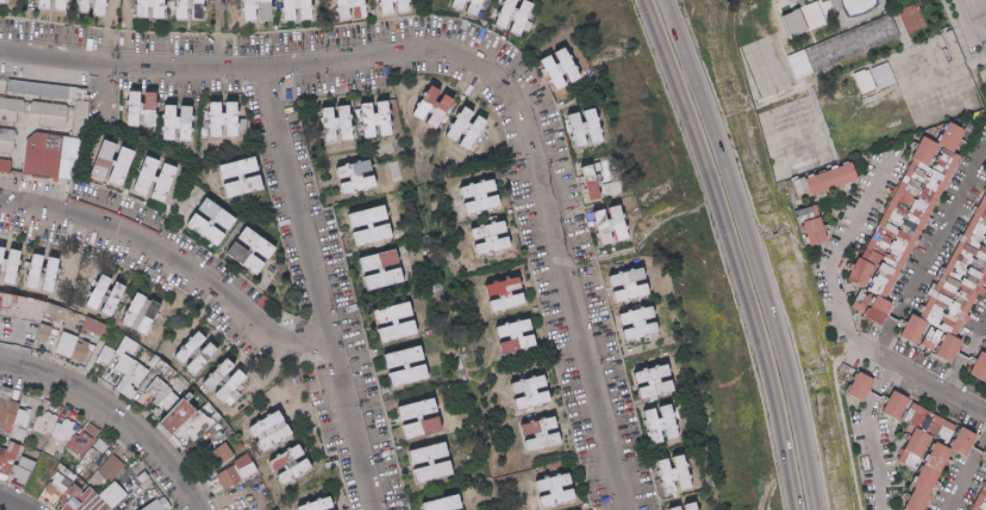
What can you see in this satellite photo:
park: (458, 299)
park: (985, 439)
park: (0, 509)

